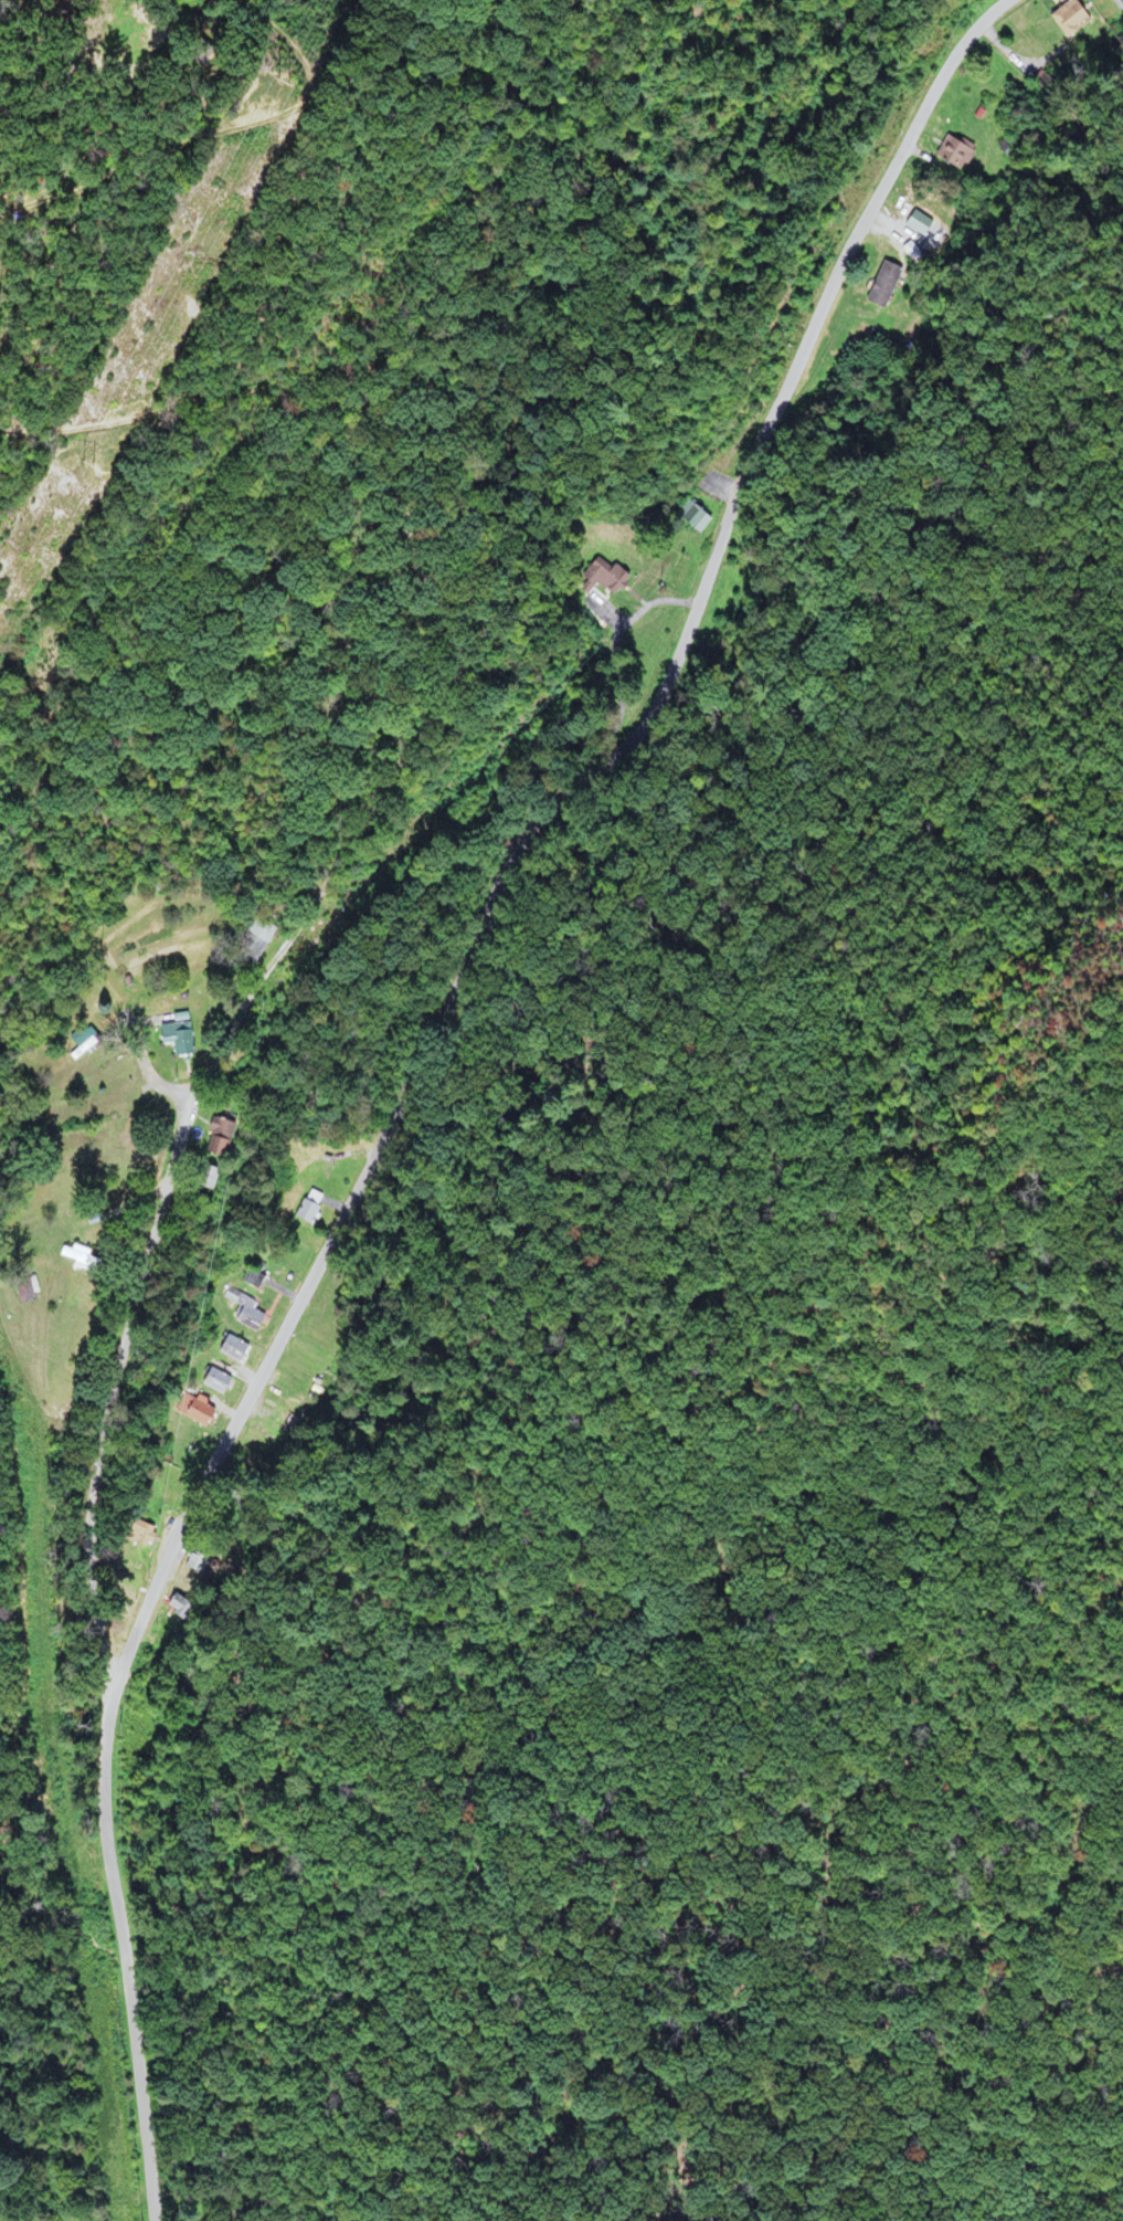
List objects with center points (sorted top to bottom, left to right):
building: (1120, 7)
building: (1066, 19)
building: (954, 154)
building: (880, 284)
power tower: (78, 457)
building: (693, 519)
building: (598, 575)
building: (248, 941)
building: (80, 1041)
building: (171, 1041)
road: (417, 1065)
building: (210, 1137)
building: (198, 1179)
building: (306, 1208)
building: (66, 1254)
building: (250, 1278)
building: (21, 1290)
road: (134, 1292)
building: (244, 1313)
building: (229, 1348)
building: (212, 1381)
building: (194, 1411)
building: (136, 1534)

